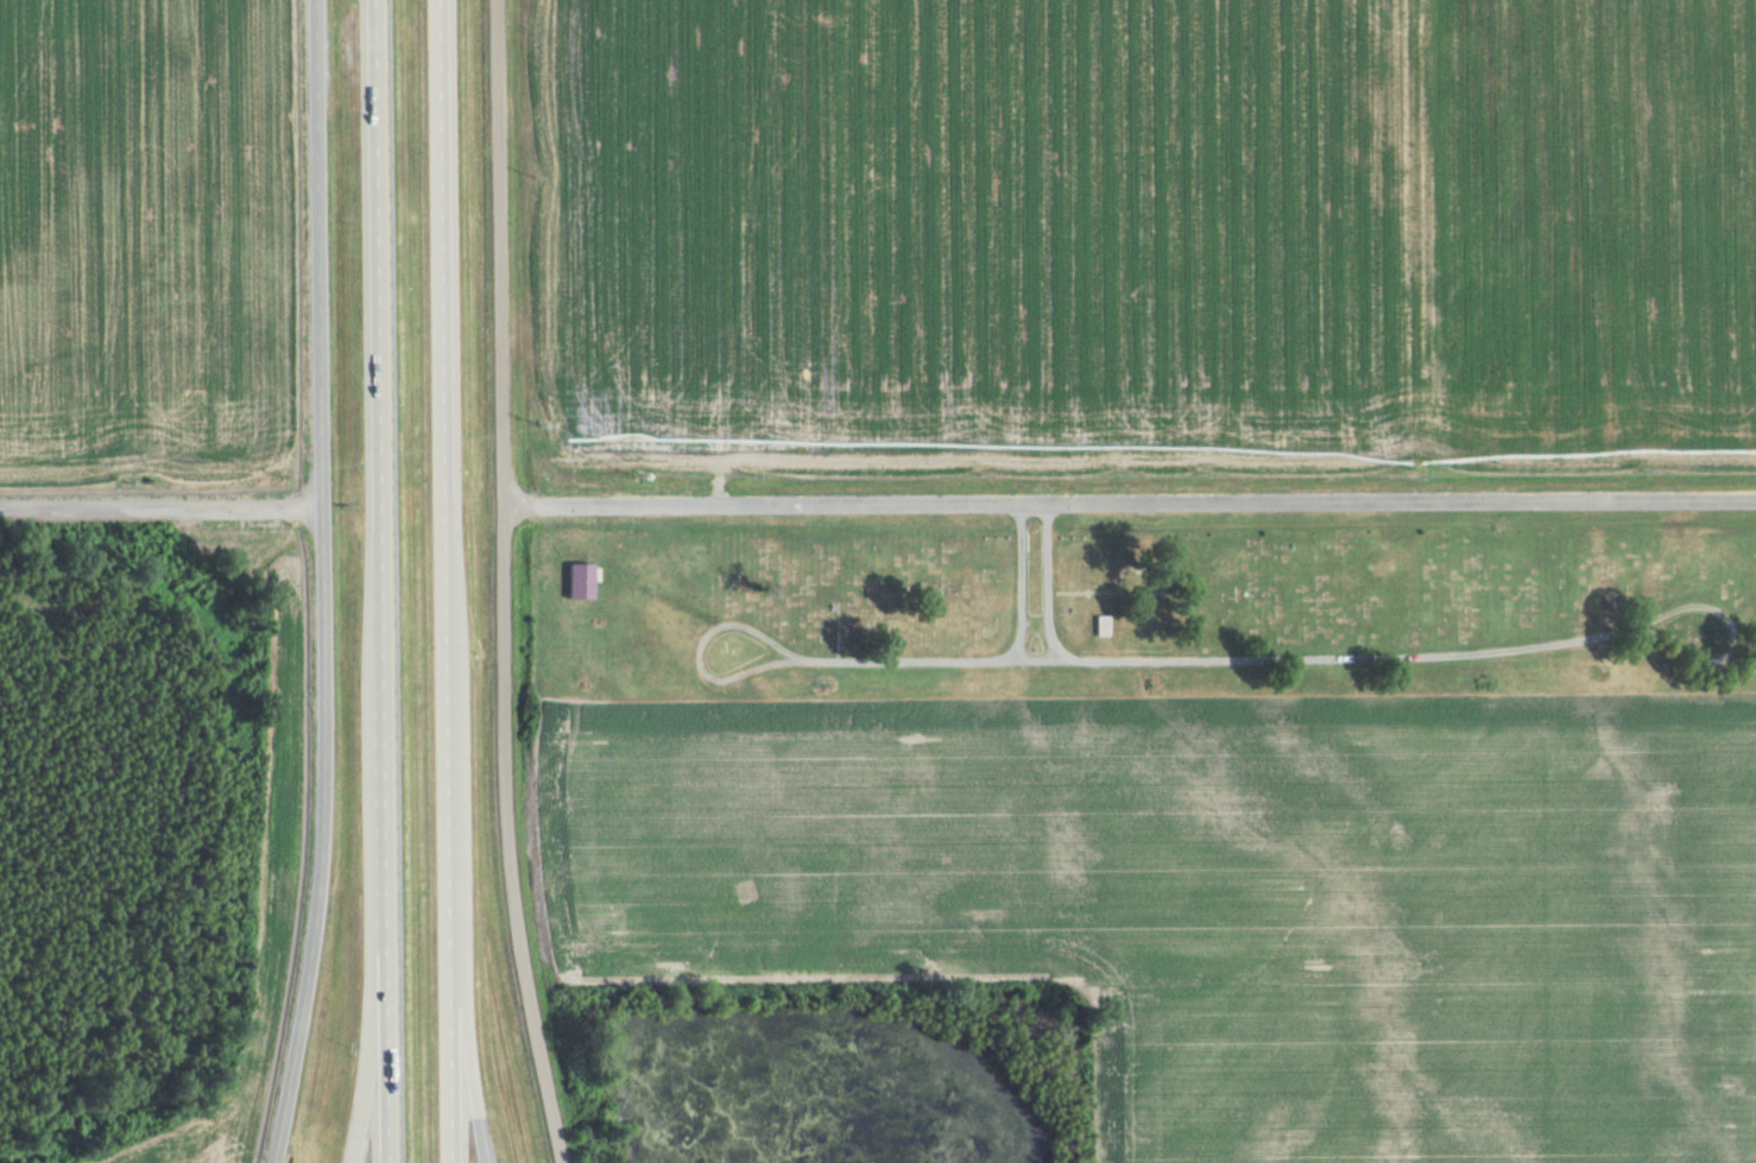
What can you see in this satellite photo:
road: (160, 506)
road: (1130, 506)
road: (384, 581)
road: (450, 581)
building: (582, 581)
road: (323, 583)
road: (505, 583)
park: (1141, 621)
road: (474, 1091)
road: (374, 1094)

